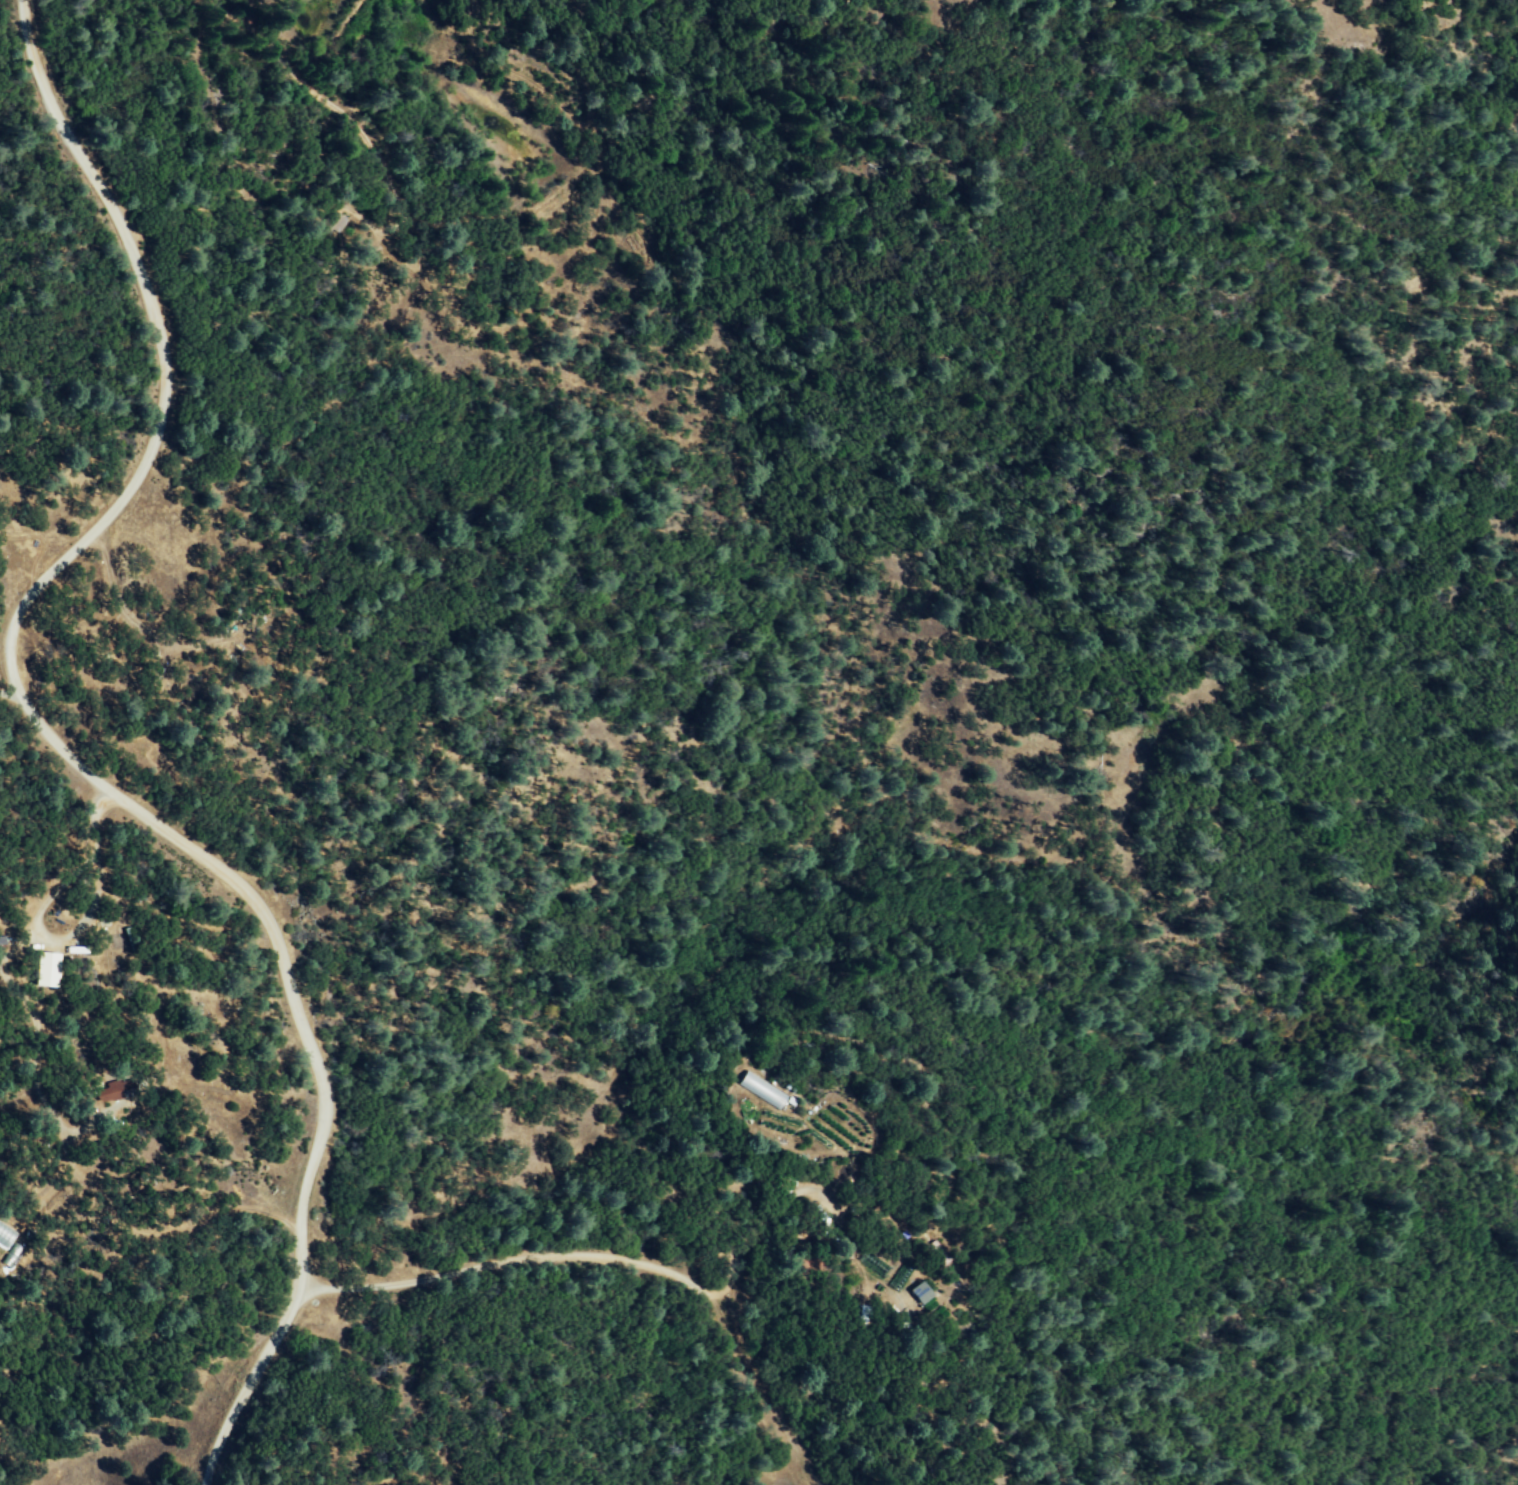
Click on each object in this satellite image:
road: (64, 760)
building: (45, 969)
building: (760, 1090)
building: (6, 1235)
road: (613, 1265)
building: (920, 1293)

